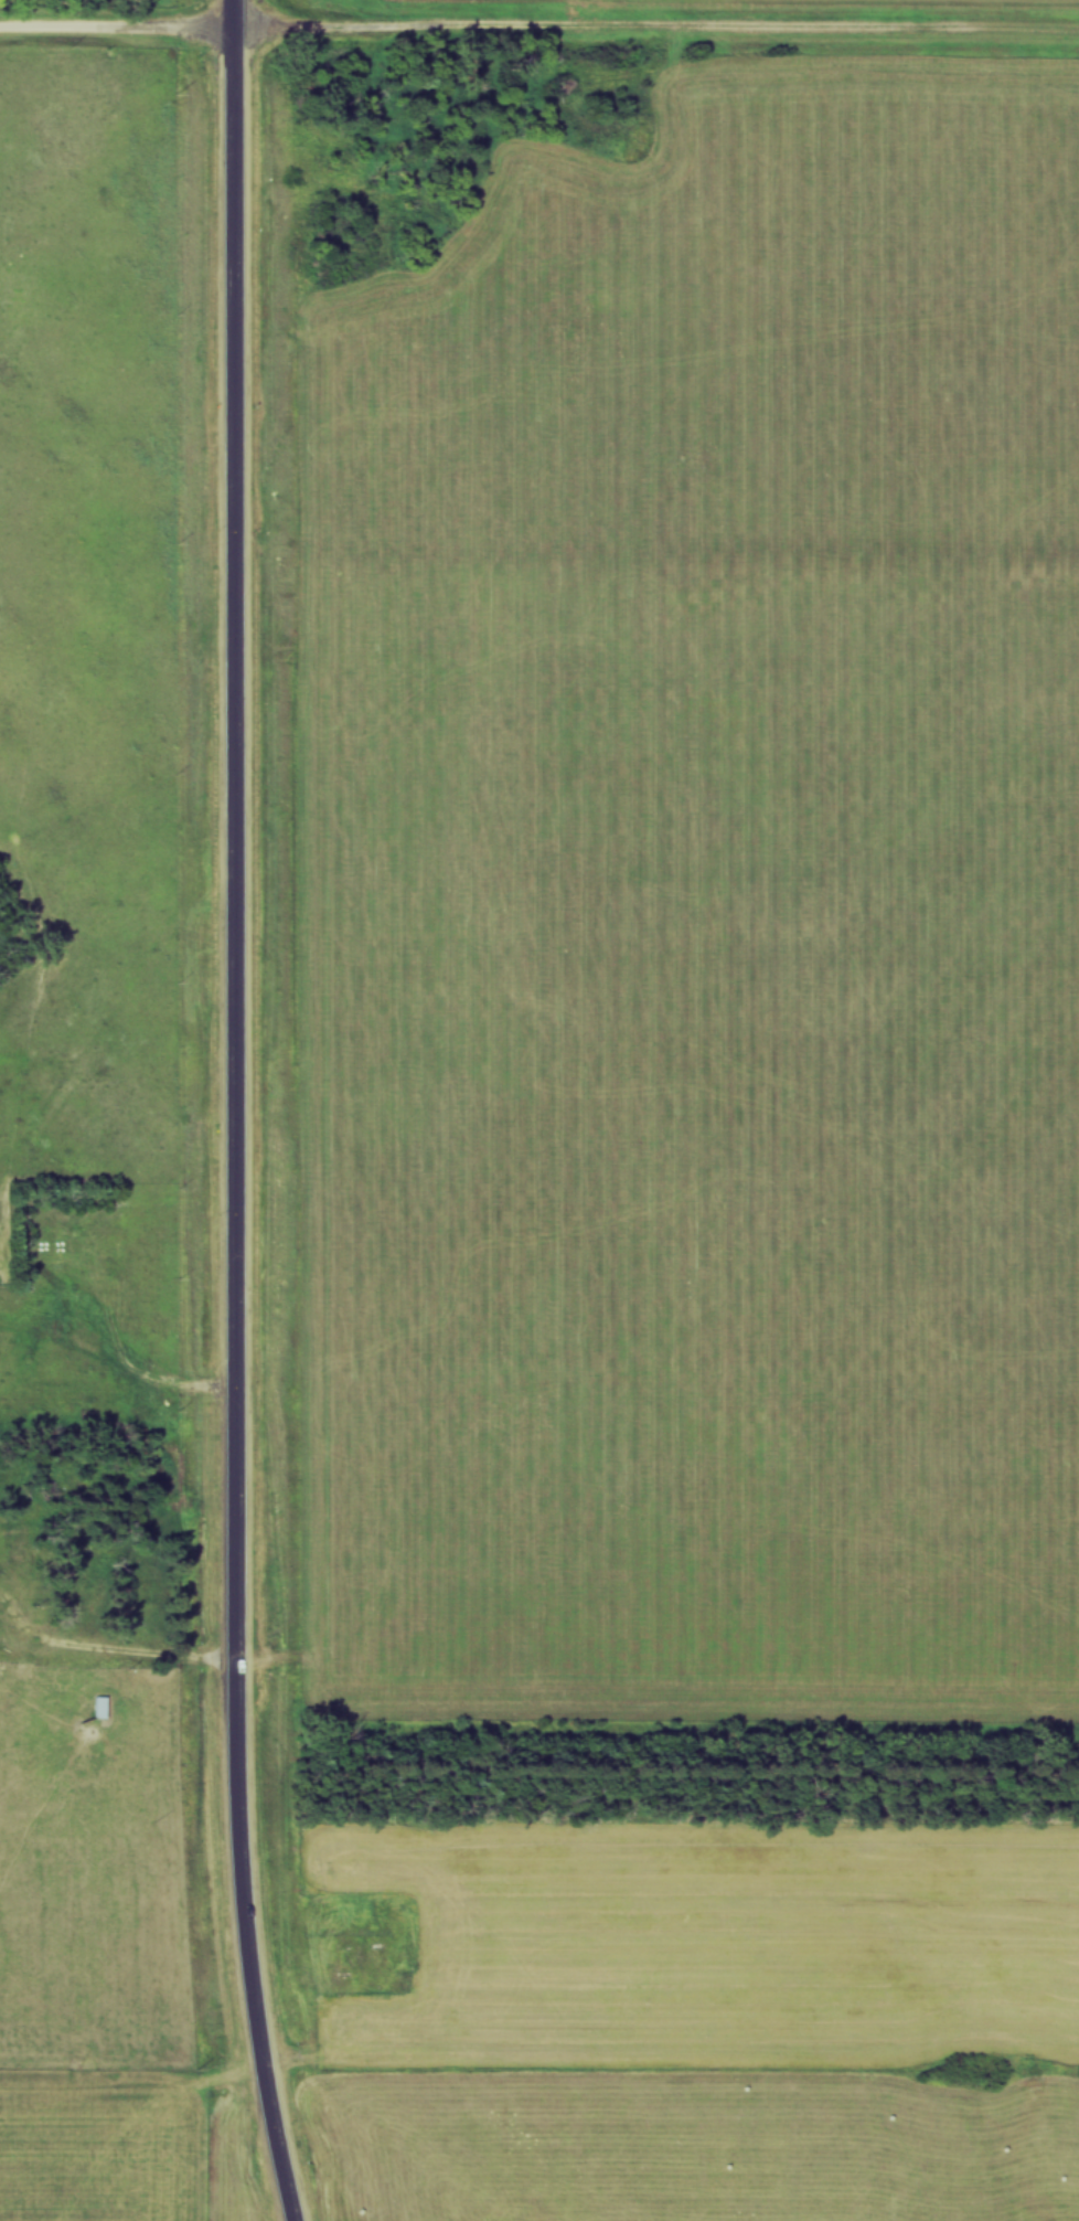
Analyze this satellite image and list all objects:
road: (538, 35)
road: (233, 1113)
road: (103, 1369)
building: (82, 1590)
building: (125, 1615)
road: (106, 1657)
building: (97, 1709)
building: (341, 1960)

